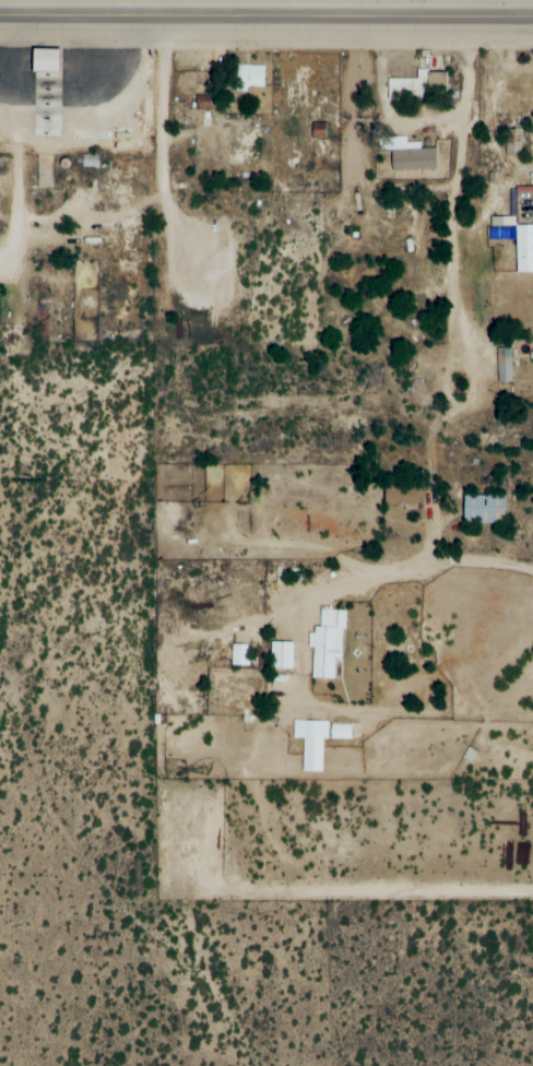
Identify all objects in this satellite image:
road: (460, 10)
road: (266, 20)
building: (42, 59)
building: (247, 78)
building: (415, 86)
building: (202, 103)
building: (512, 142)
building: (406, 154)
road: (32, 165)
road: (327, 205)
road: (289, 221)
building: (501, 221)
building: (523, 249)
building: (531, 355)
building: (502, 365)
building: (399, 495)
building: (482, 509)
building: (325, 643)
building: (238, 655)
building: (280, 656)
road: (108, 719)
building: (317, 741)

